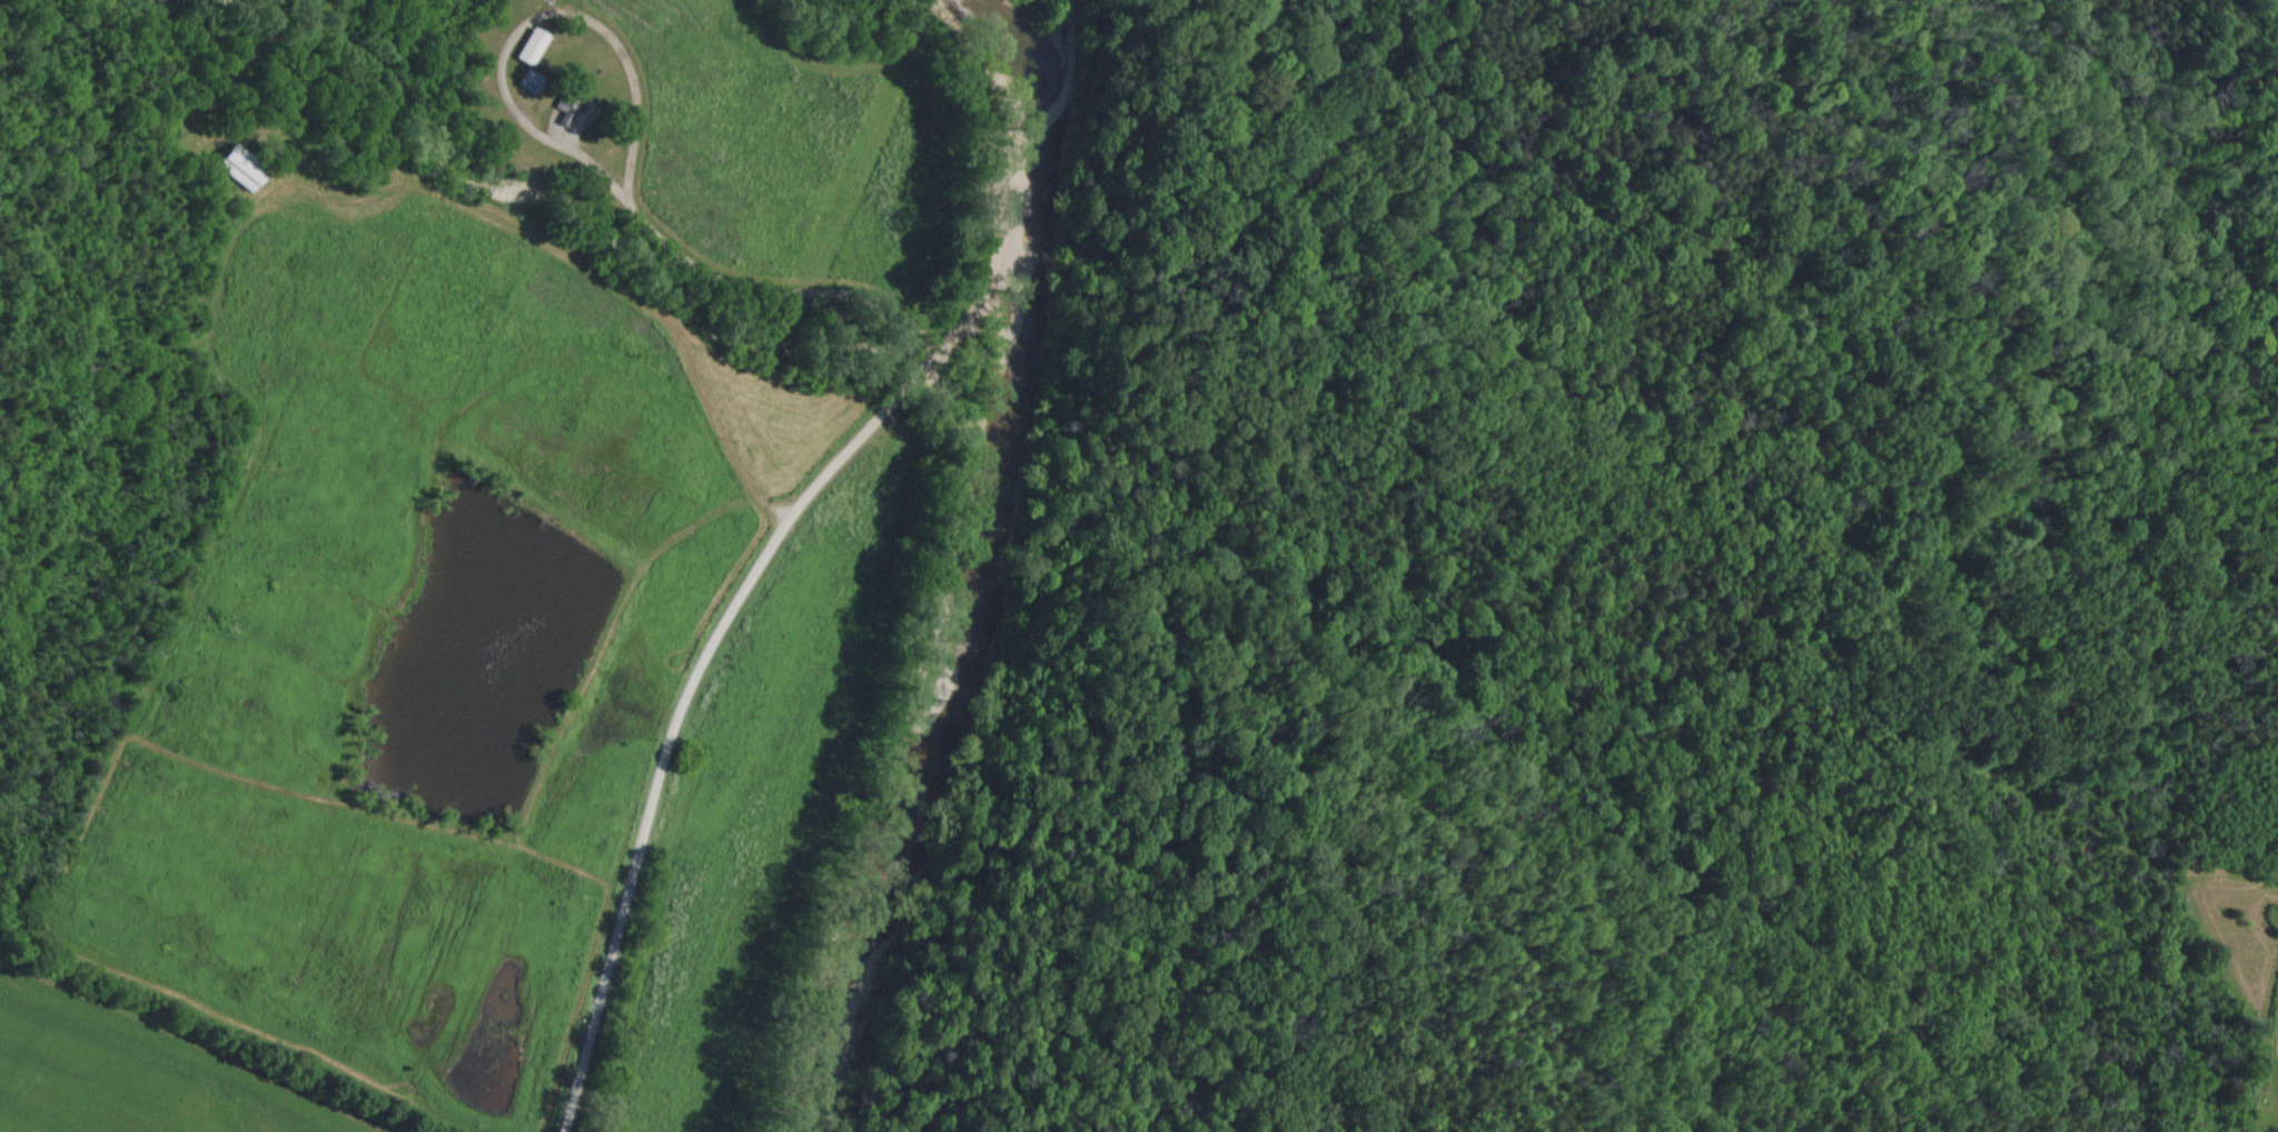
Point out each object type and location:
building: (527, 49)
road: (503, 79)
building: (526, 83)
crop: (717, 138)
building: (235, 169)
road: (765, 554)
river: (997, 568)
crop: (456, 694)

